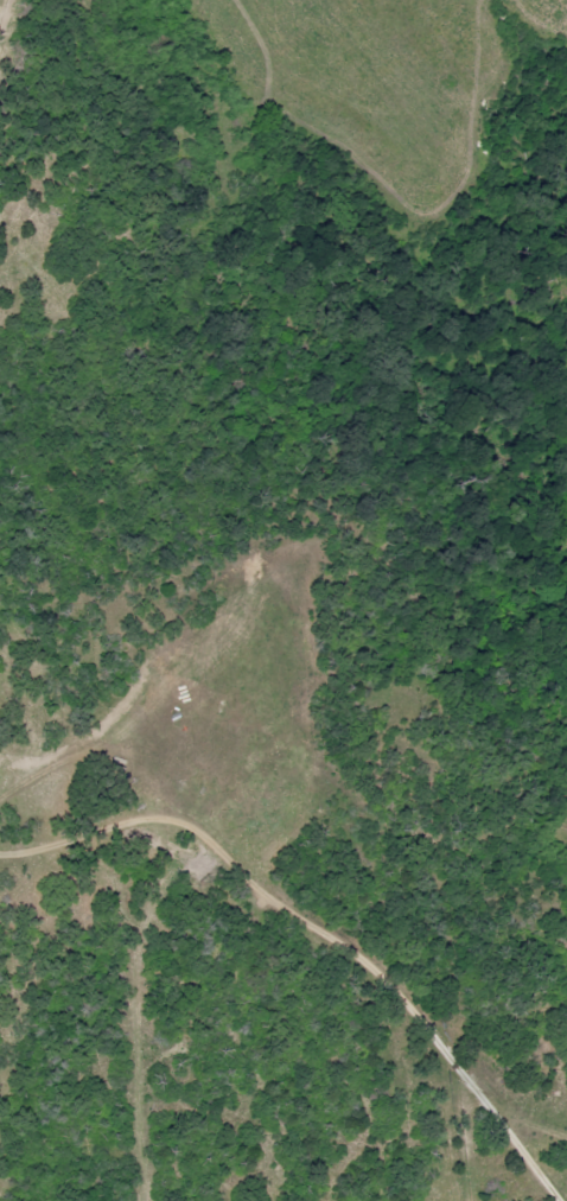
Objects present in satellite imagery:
road: (308, 947)

